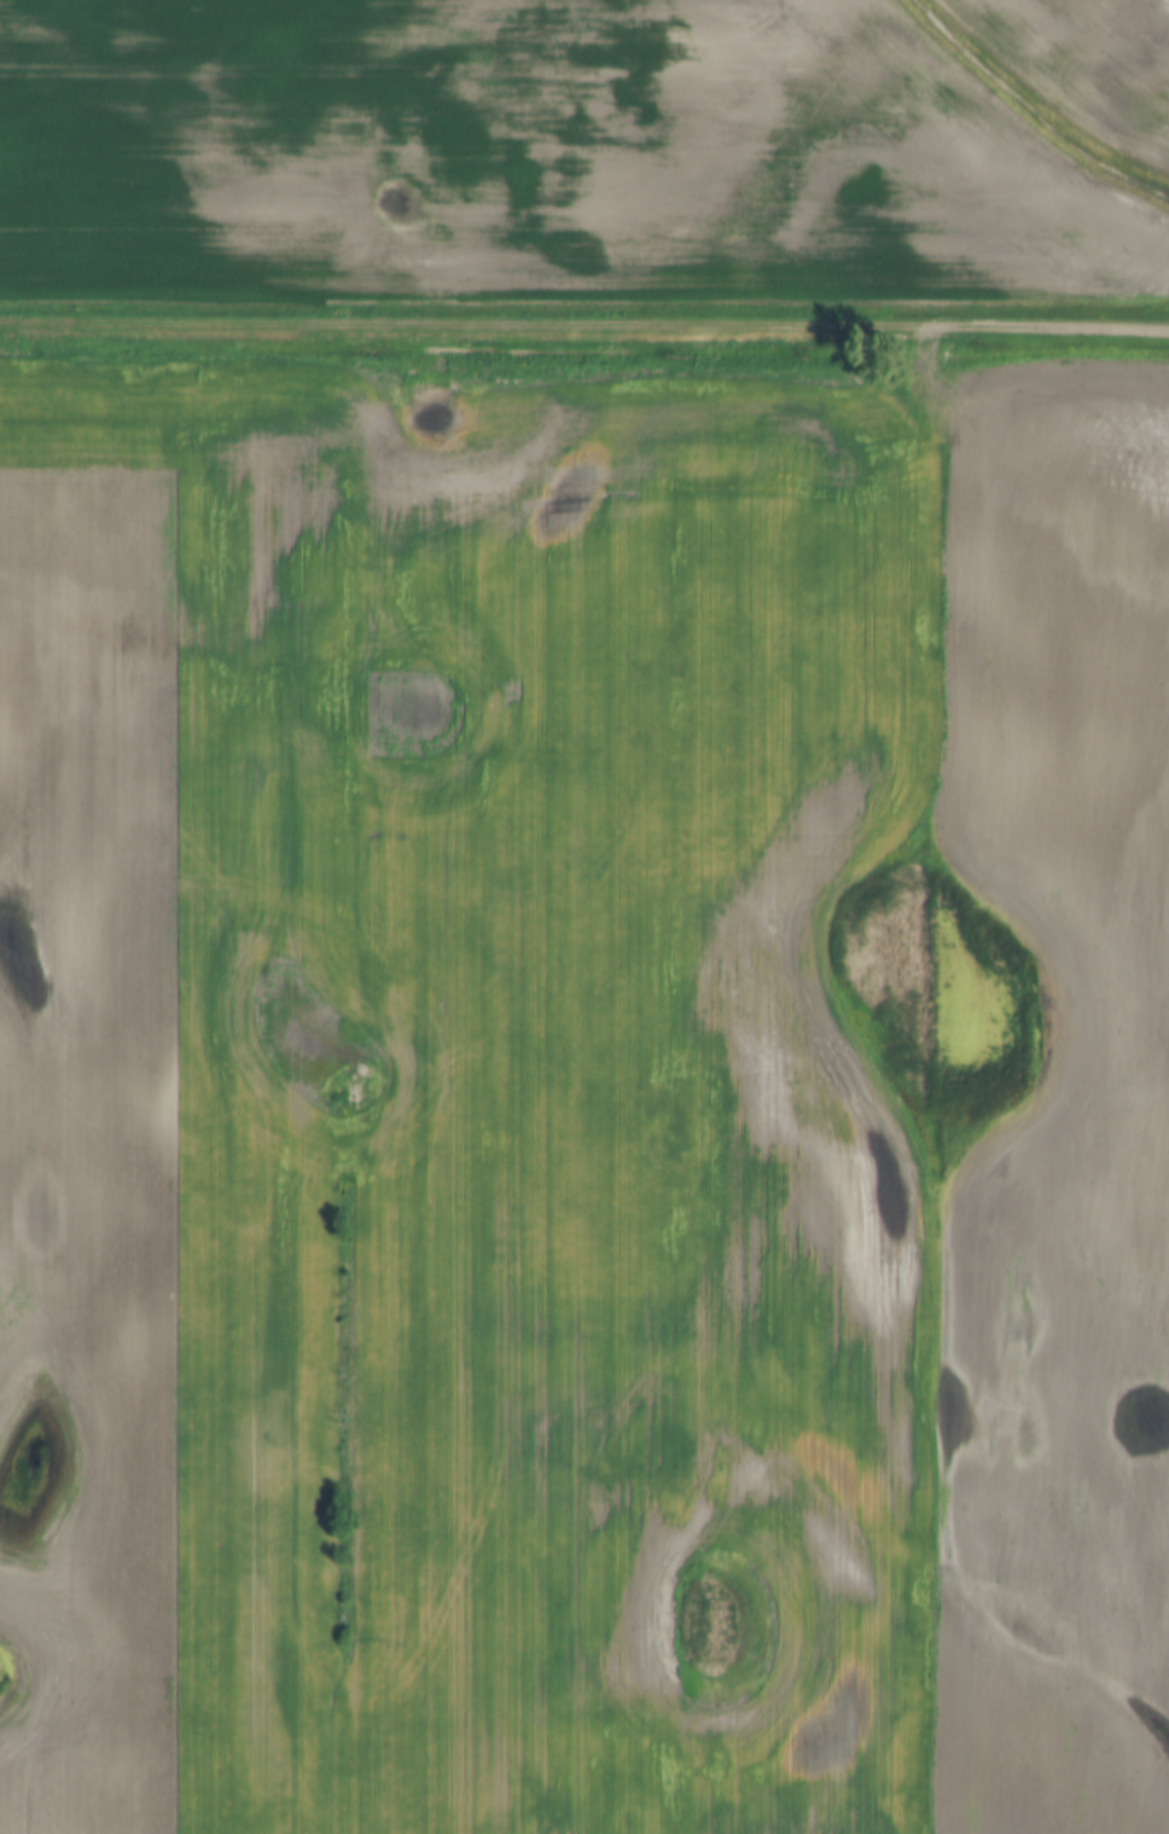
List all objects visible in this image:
road: (584, 323)

